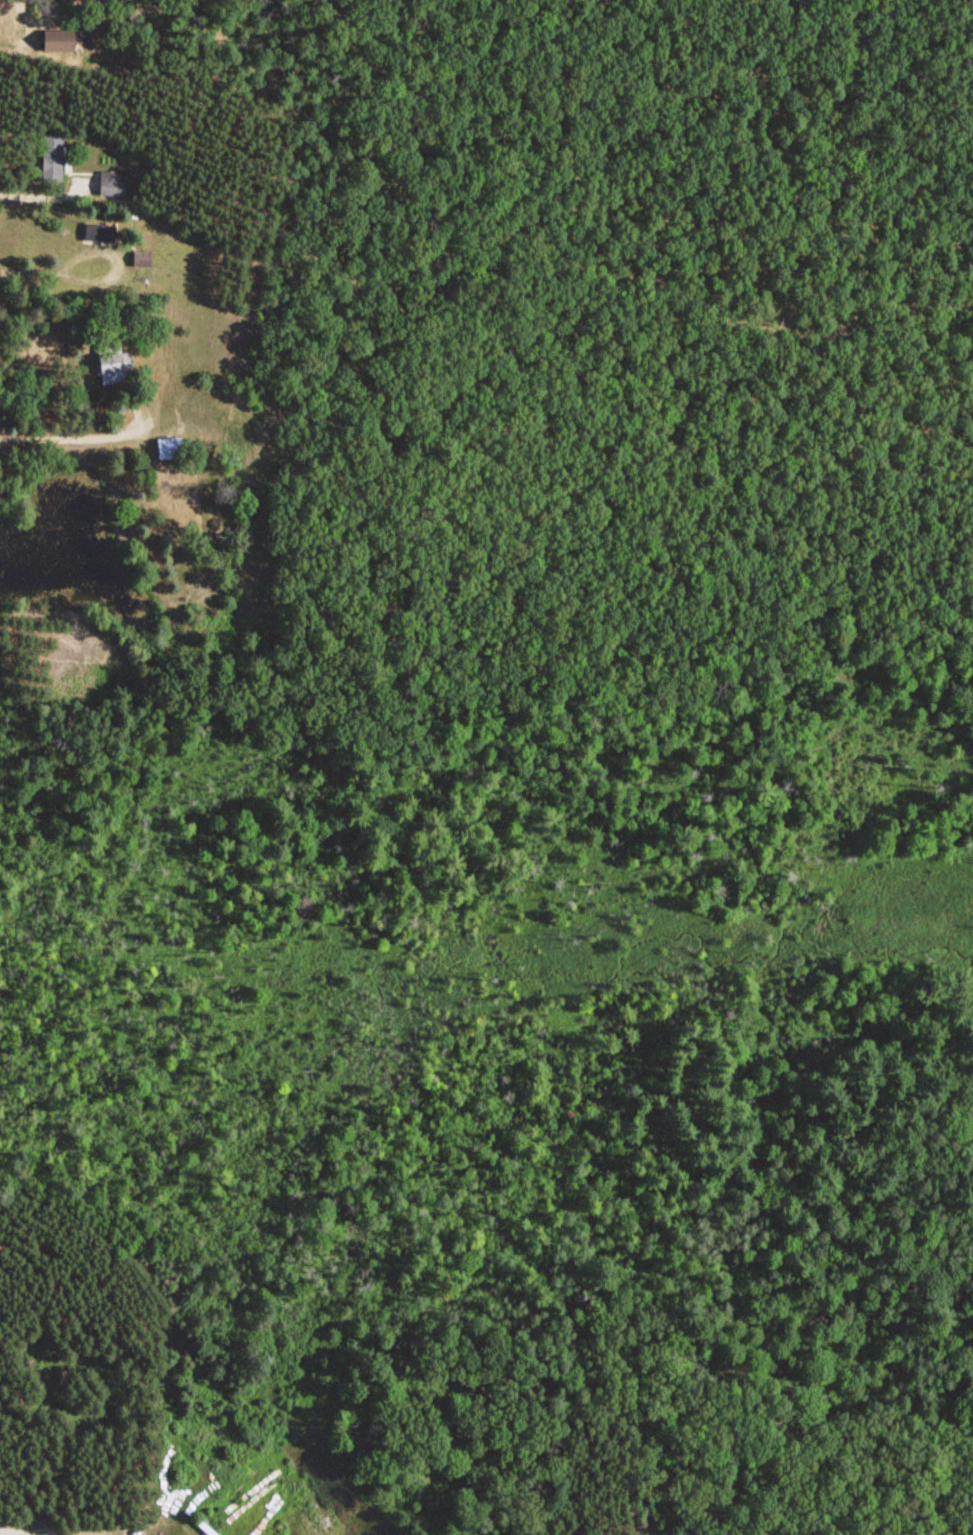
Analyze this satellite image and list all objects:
building: (55, 39)
building: (52, 157)
building: (112, 181)
building: (98, 232)
building: (141, 257)
building: (111, 361)
road: (81, 433)
building: (168, 446)
road: (59, 1432)

